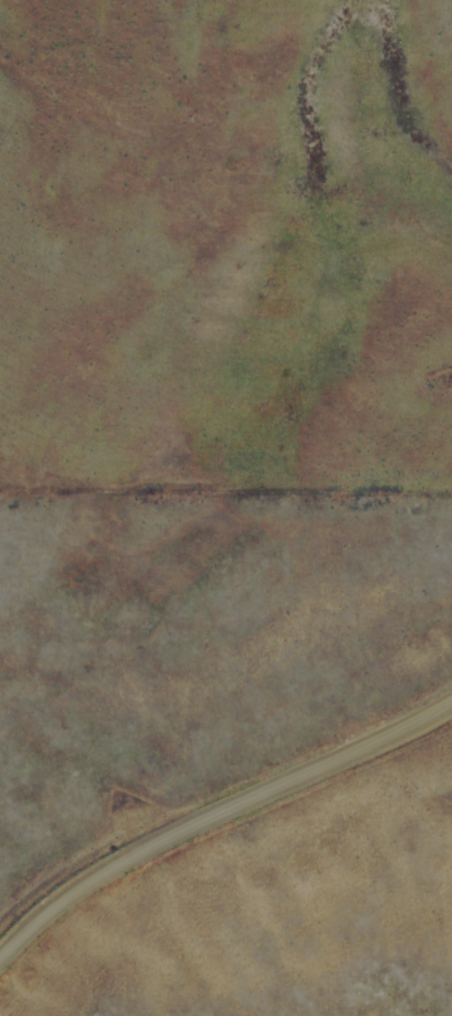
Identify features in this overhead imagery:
road: (216, 810)

